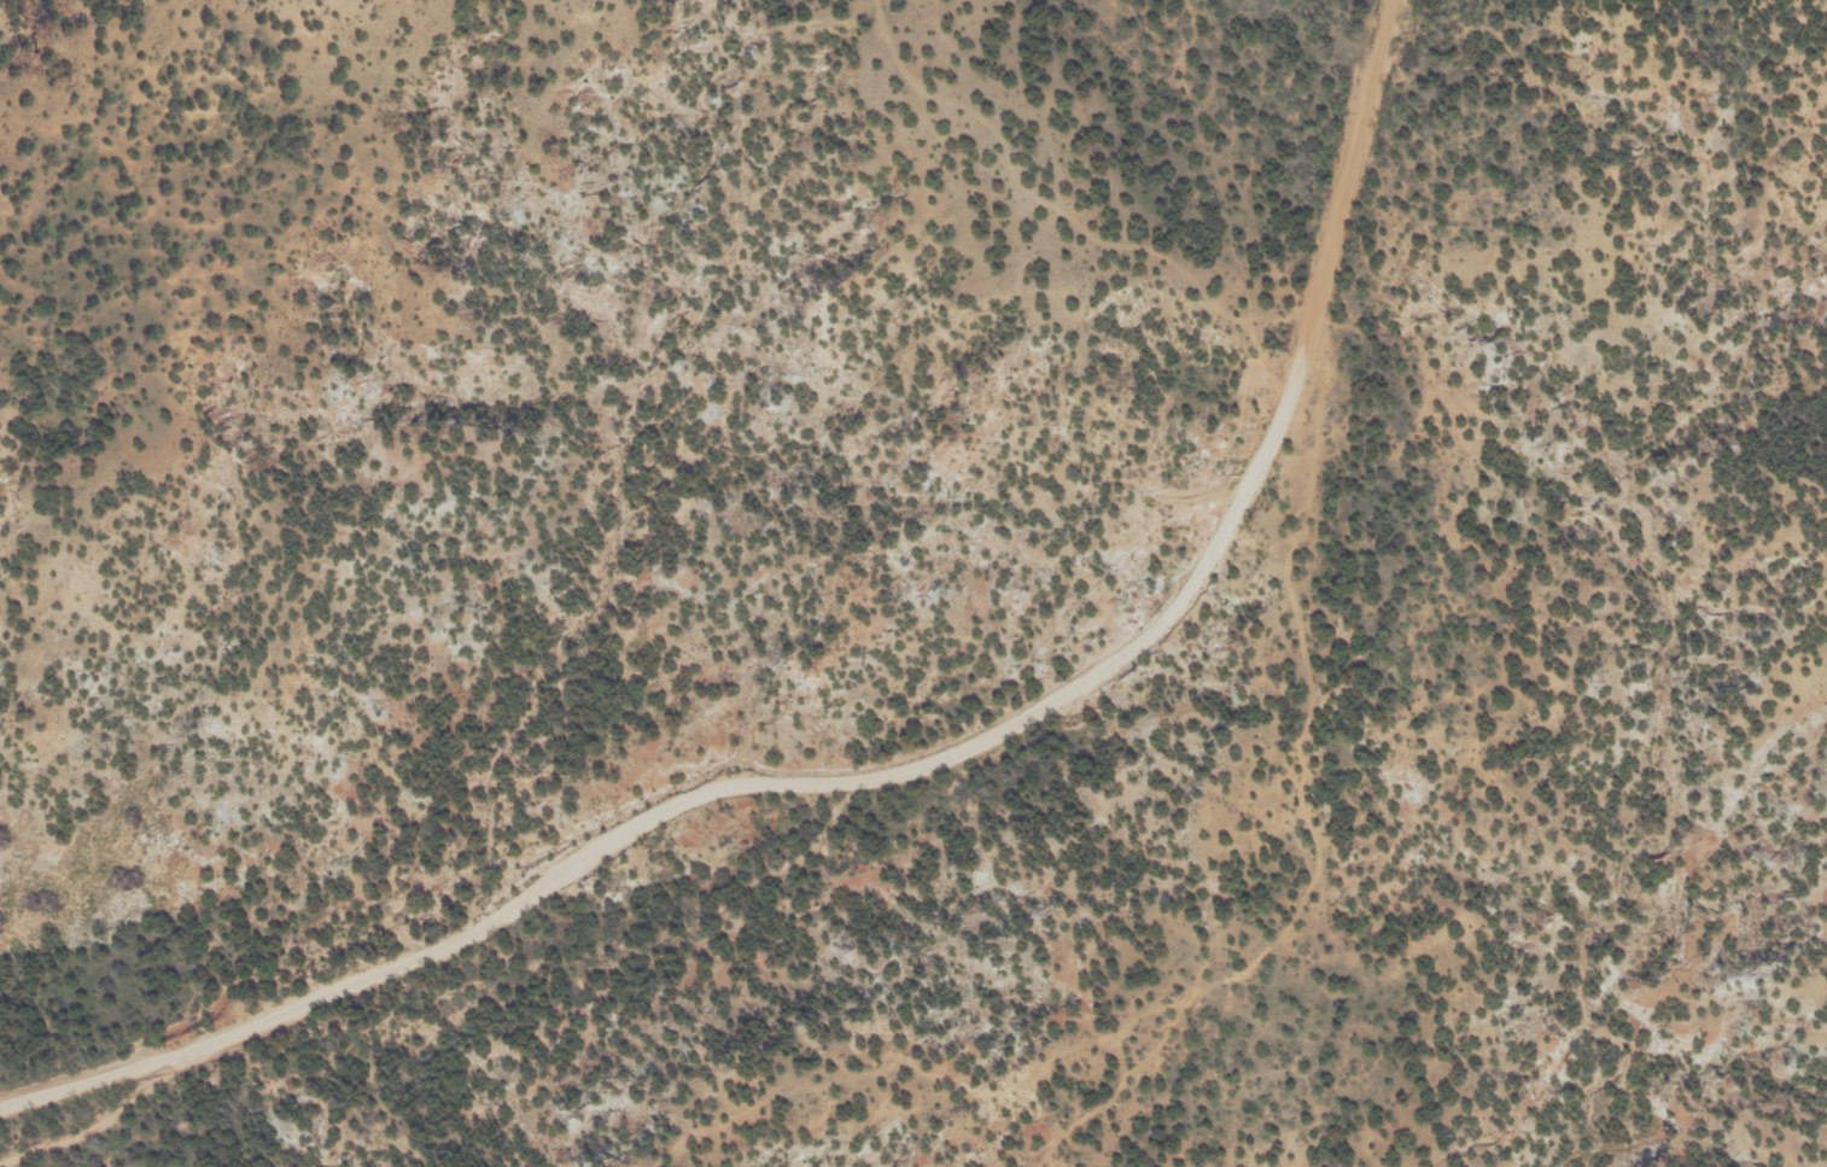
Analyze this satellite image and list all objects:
road: (899, 764)

